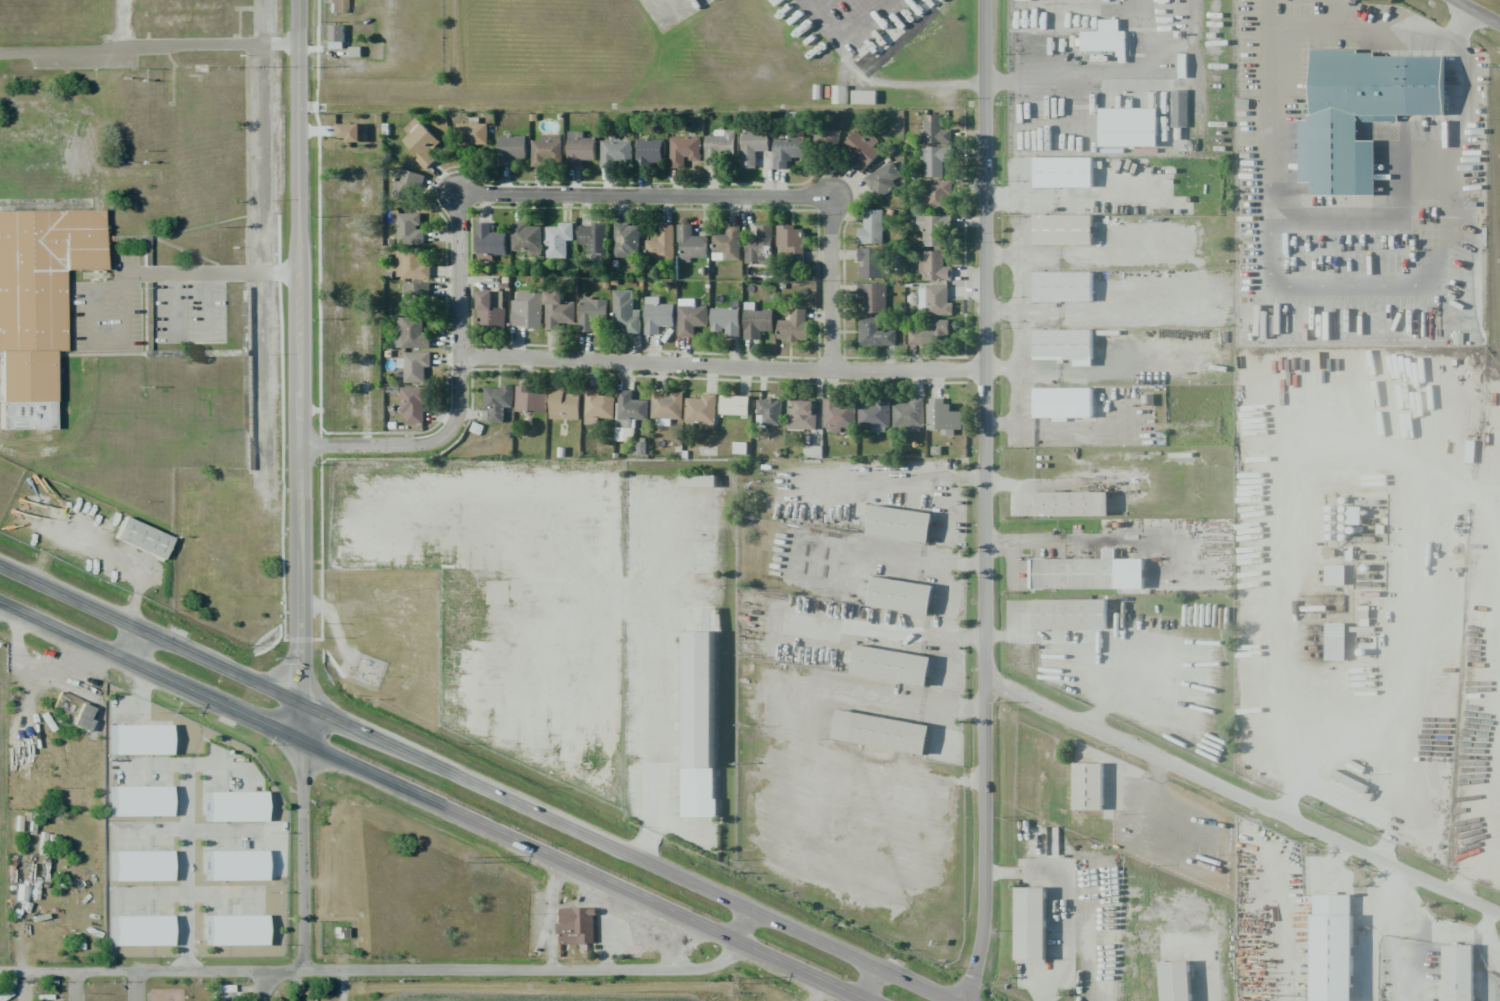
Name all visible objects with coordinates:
building: (775, 2)
building: (336, 6)
road: (1478, 11)
building: (336, 36)
building: (1105, 39)
road: (147, 46)
road: (1095, 68)
power tower: (1498, 68)
building: (839, 94)
building: (864, 97)
building: (1179, 108)
building: (1361, 113)
building: (1135, 127)
building: (829, 130)
building: (935, 130)
building: (353, 132)
building: (471, 135)
building: (420, 141)
building: (718, 146)
building: (753, 146)
building: (579, 148)
building: (511, 149)
building: (547, 150)
building: (684, 150)
building: (787, 150)
building: (862, 150)
building: (650, 151)
building: (46, 153)
building: (615, 154)
building: (935, 159)
building: (1069, 174)
building: (883, 179)
building: (407, 185)
building: (938, 193)
road: (642, 194)
building: (871, 227)
building: (409, 228)
building: (1068, 231)
building: (527, 238)
building: (558, 239)
building: (594, 239)
building: (626, 240)
building: (489, 242)
building: (661, 243)
building: (728, 243)
building: (790, 243)
building: (691, 244)
building: (759, 245)
building: (870, 262)
building: (411, 266)
building: (934, 266)
building: (45, 273)
road: (829, 285)
building: (1067, 288)
building: (415, 295)
building: (873, 297)
building: (935, 299)
building: (527, 308)
building: (491, 309)
building: (559, 309)
building: (625, 311)
building: (591, 312)
building: (657, 315)
building: (691, 319)
building: (726, 321)
building: (757, 323)
building: (793, 326)
building: (412, 332)
building: (874, 333)
building: (931, 333)
building: (1068, 347)
building: (414, 365)
road: (720, 367)
road: (296, 369)
building: (32, 380)
road: (458, 389)
building: (530, 398)
building: (496, 402)
building: (414, 404)
building: (563, 404)
building: (666, 404)
building: (734, 404)
building: (1069, 405)
building: (597, 406)
building: (768, 411)
building: (701, 412)
building: (628, 413)
building: (801, 414)
building: (839, 414)
building: (909, 414)
building: (874, 415)
building: (943, 417)
building: (698, 480)
road: (984, 501)
building: (1079, 507)
building: (908, 530)
building: (148, 541)
building: (1335, 574)
building: (1079, 577)
building: (909, 599)
building: (1076, 617)
building: (1335, 641)
road: (128, 643)
building: (898, 669)
building: (707, 706)
power tower: (156, 710)
building: (74, 712)
building: (888, 736)
building: (145, 743)
road: (474, 782)
building: (1091, 790)
road: (1242, 797)
road: (436, 801)
building: (145, 803)
building: (241, 810)
road: (300, 853)
power tower: (481, 859)
road: (187, 868)
building: (241, 868)
building: (146, 870)
road: (1072, 899)
building: (577, 925)
building: (1036, 927)
building: (144, 933)
building: (239, 933)
building: (1341, 960)
road: (390, 968)
road: (1213, 974)
building: (1464, 975)
power tower: (749, 983)
road: (866, 983)
building: (1181, 983)
road: (22, 986)
road: (74, 986)
road: (133, 987)
building: (223, 988)
road: (257, 988)
crop: (556, 995)
building: (220, 996)

